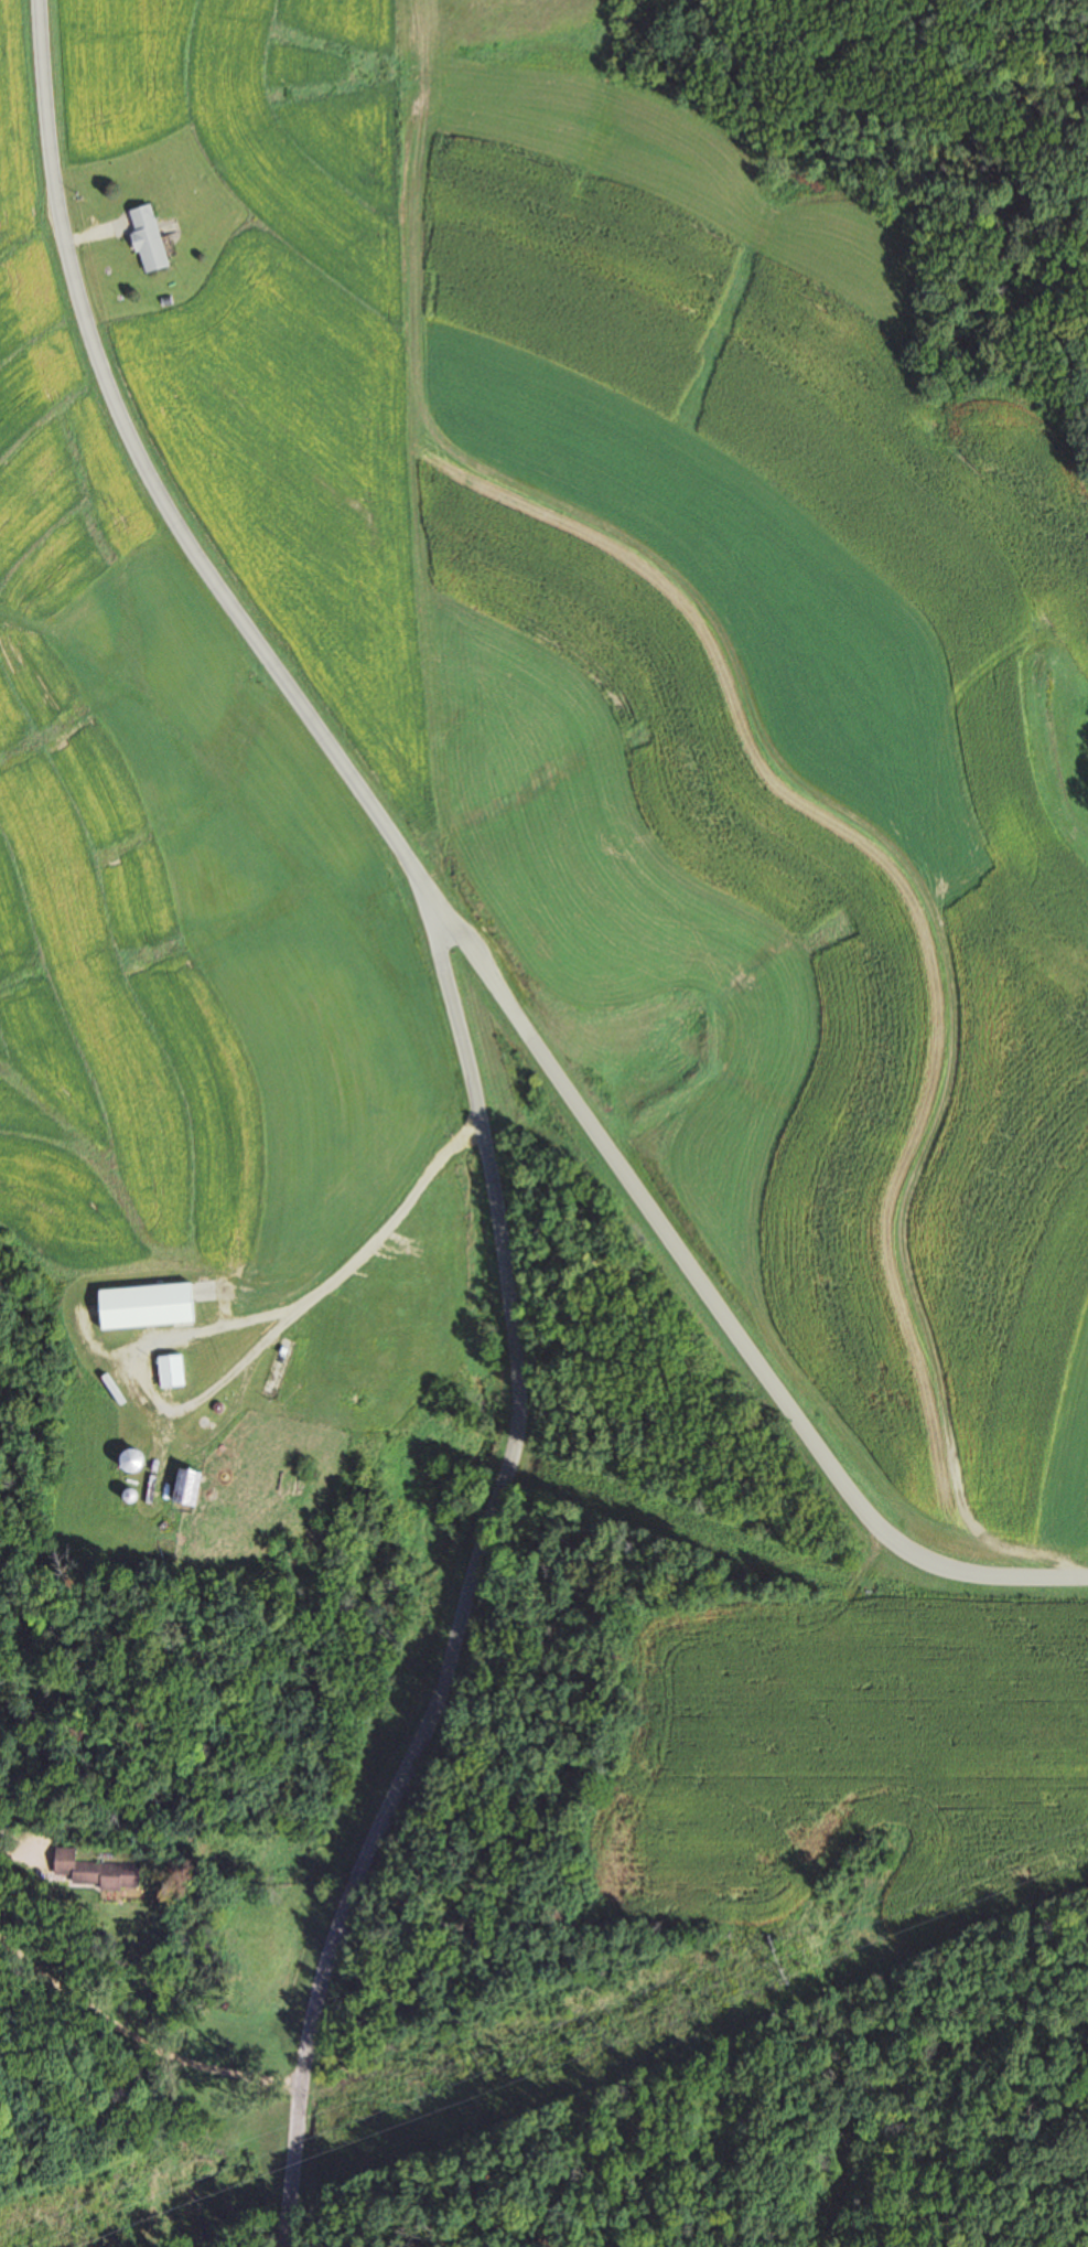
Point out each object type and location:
building: (144, 237)
road: (455, 940)
building: (143, 1306)
road: (249, 1360)
building: (169, 1370)
building: (127, 1460)
building: (183, 1488)
building: (126, 1497)
road: (452, 1582)
building: (93, 1871)

